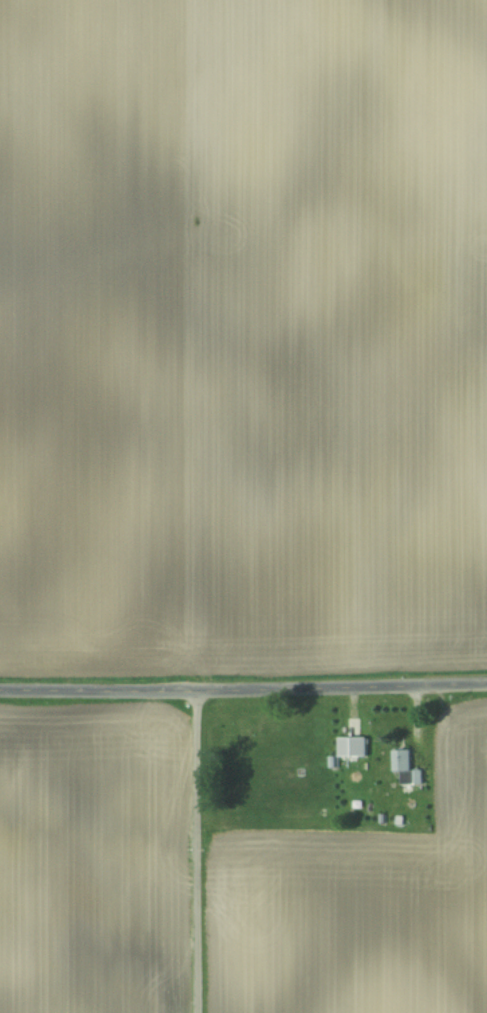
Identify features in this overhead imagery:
road: (243, 688)
building: (352, 747)
building: (406, 768)
road: (196, 851)

